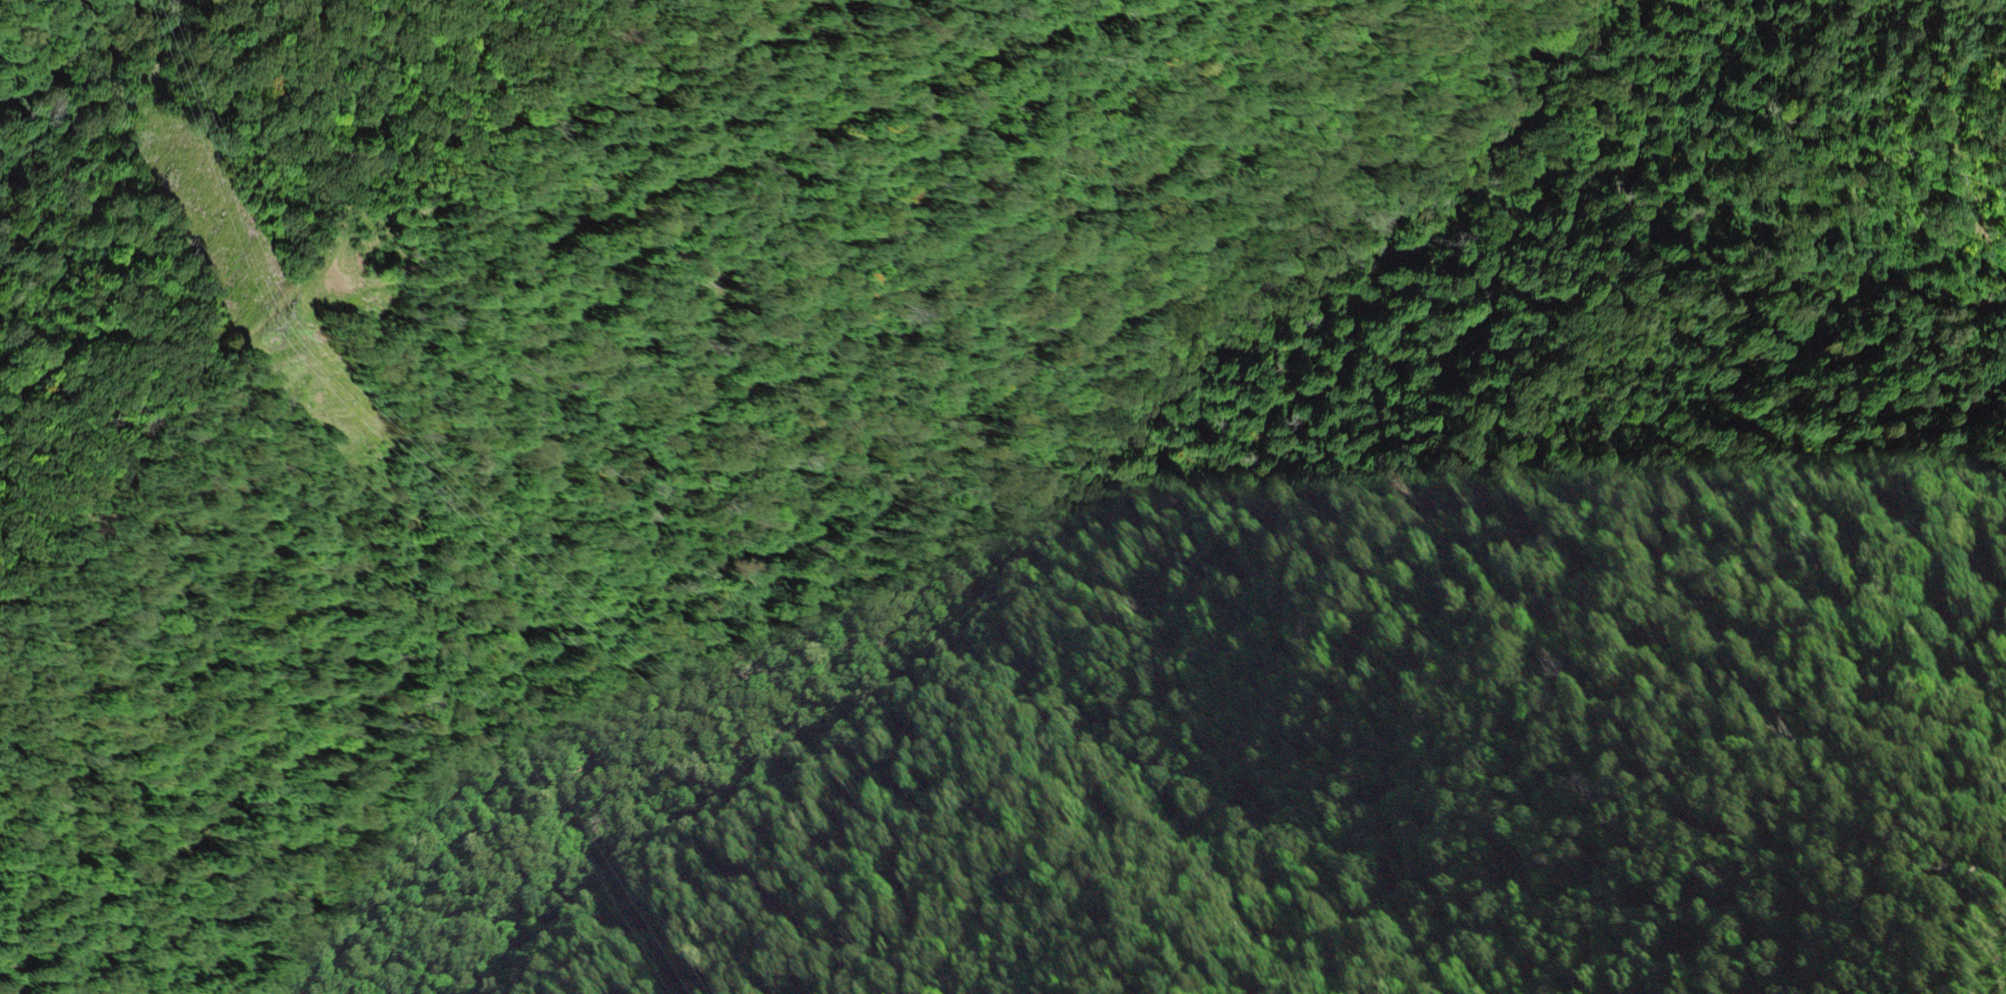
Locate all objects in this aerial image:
road: (294, 299)

